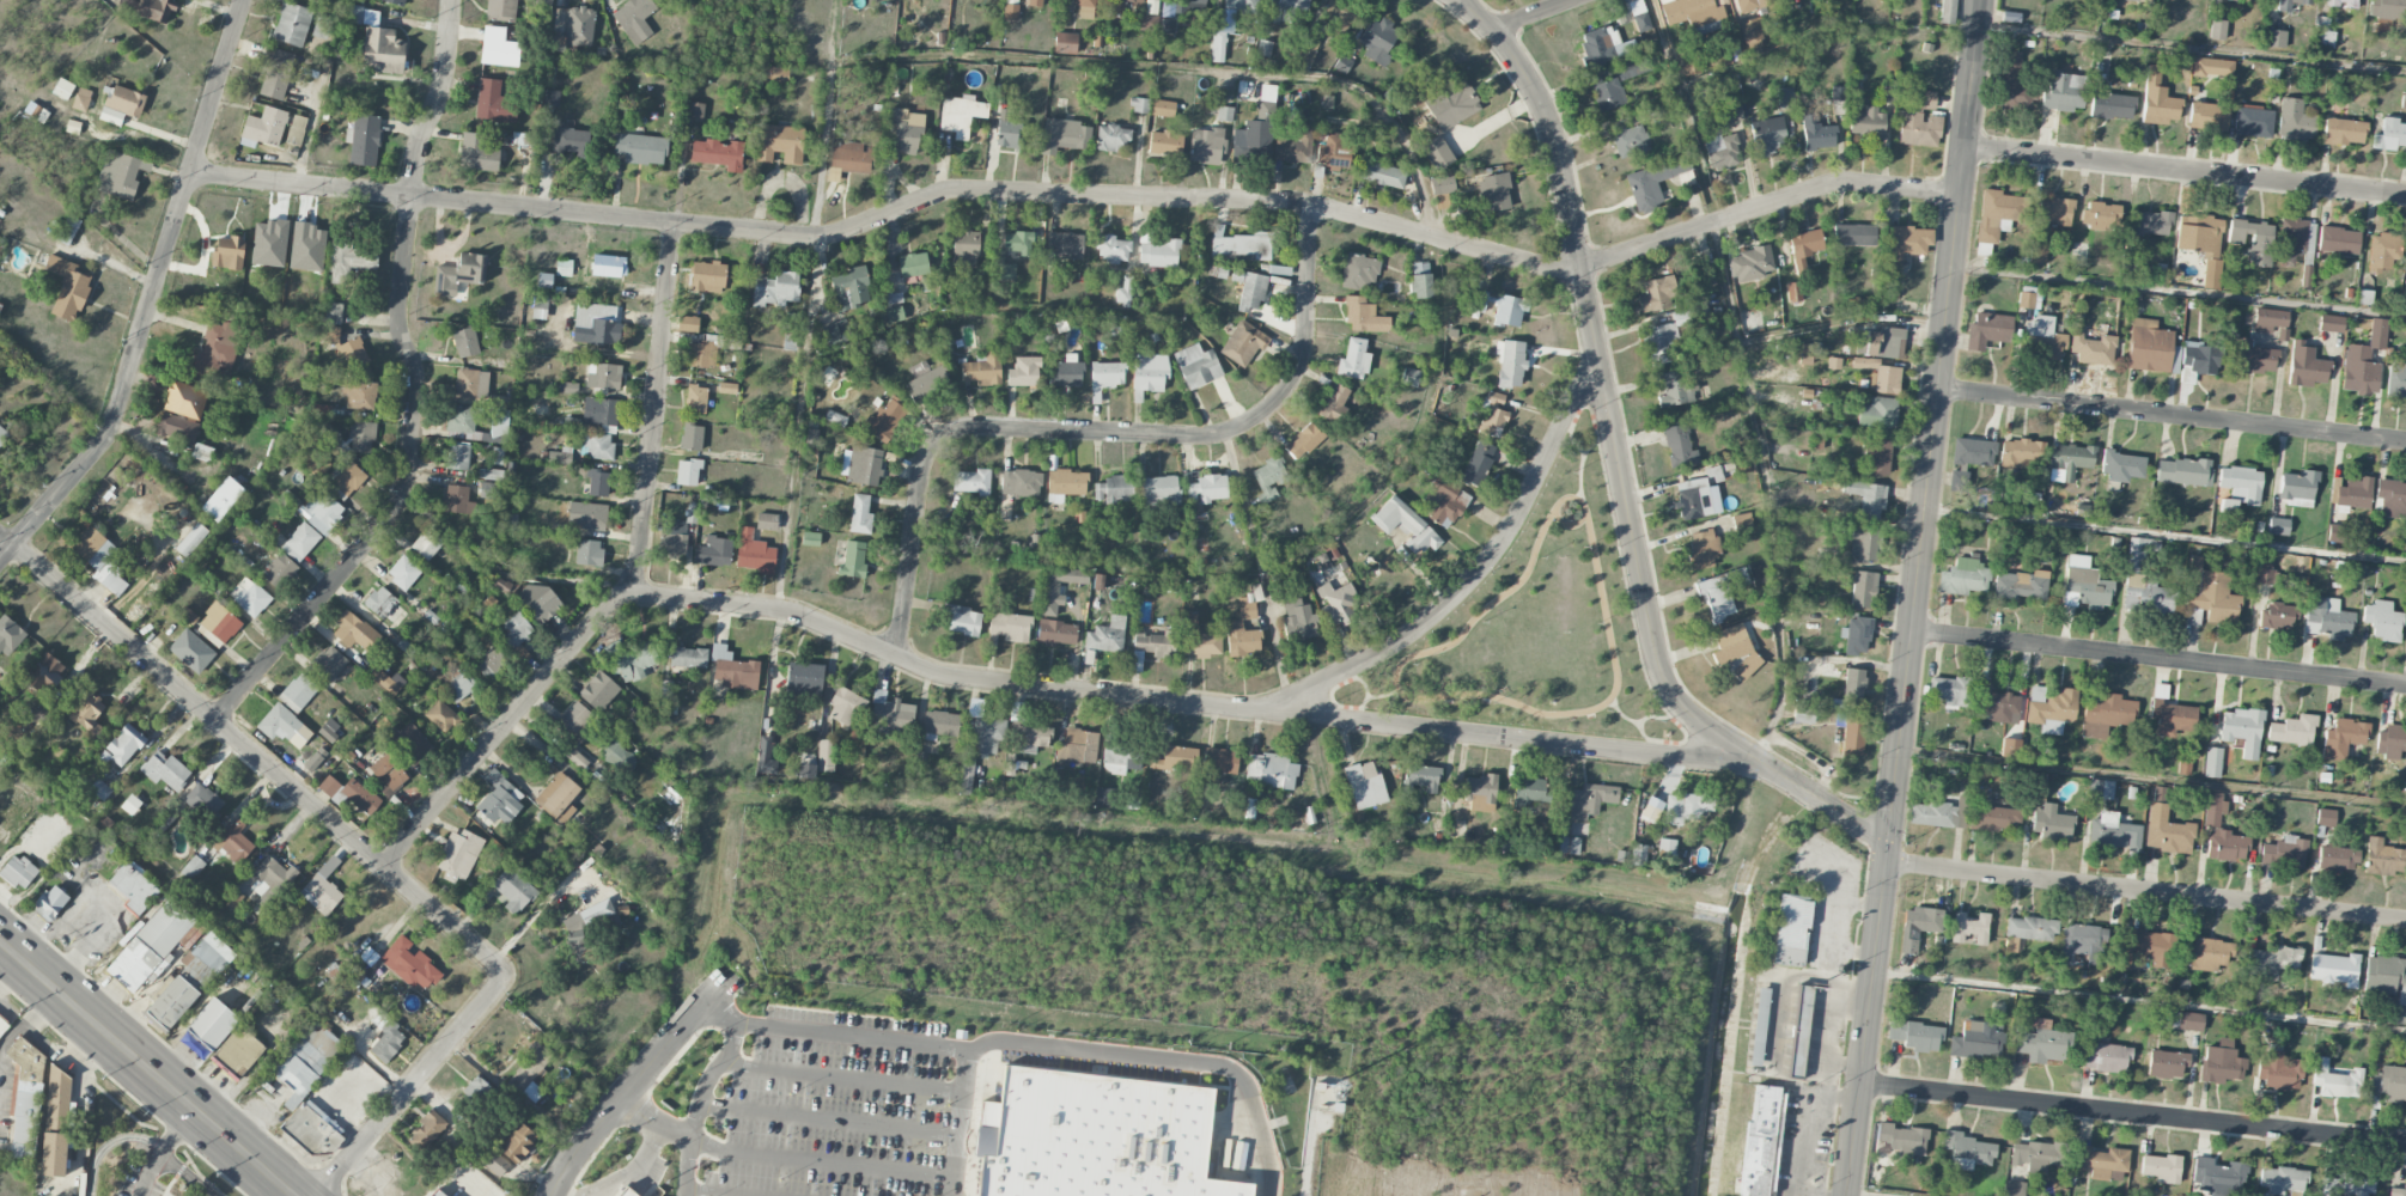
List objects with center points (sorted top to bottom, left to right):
building: (2132, 0)
building: (2230, 0)
building: (325, 1)
building: (396, 1)
building: (540, 1)
building: (1036, 2)
building: (1190, 4)
building: (2341, 4)
building: (1091, 6)
building: (1241, 6)
building: (1743, 6)
building: (1292, 7)
building: (2283, 7)
building: (151, 10)
building: (500, 10)
building: (1120, 10)
building: (2387, 10)
building: (1011, 12)
building: (1693, 12)
building: (1948, 12)
building: (354, 13)
road: (1535, 16)
building: (1168, 17)
building: (1339, 18)
building: (634, 19)
building: (292, 24)
building: (579, 26)
building: (2217, 30)
building: (2322, 33)
building: (1752, 35)
road: (1819, 36)
building: (2274, 38)
building: (1378, 41)
building: (1065, 43)
building: (1217, 45)
building: (1602, 45)
building: (498, 48)
building: (1263, 48)
road: (2187, 48)
building: (382, 51)
building: (1308, 51)
building: (2212, 67)
building: (1632, 68)
building: (275, 72)
building: (774, 75)
building: (2014, 79)
building: (63, 89)
building: (1607, 92)
building: (2064, 92)
building: (1838, 93)
building: (1887, 94)
building: (550, 98)
building: (1785, 98)
building: (81, 99)
building: (2157, 100)
building: (2404, 100)
building: (493, 103)
building: (121, 104)
building: (1451, 104)
building: (1140, 105)
building: (2112, 105)
building: (1162, 108)
building: (695, 110)
building: (1731, 111)
building: (1224, 114)
building: (961, 115)
building: (2207, 116)
building: (1919, 122)
building: (2253, 122)
building: (2295, 122)
building: (1866, 123)
building: (263, 128)
building: (906, 129)
building: (296, 130)
building: (2343, 132)
building: (1009, 133)
building: (1254, 134)
building: (1817, 134)
building: (1064, 135)
building: (2389, 135)
building: (1111, 136)
building: (1768, 136)
building: (1628, 139)
building: (364, 140)
building: (569, 141)
building: (1165, 142)
building: (780, 144)
building: (1205, 146)
building: (1295, 147)
building: (640, 148)
building: (1722, 152)
building: (477, 153)
building: (718, 153)
building: (1334, 153)
building: (1437, 153)
building: (851, 158)
road: (2181, 171)
building: (120, 175)
building: (1382, 175)
building: (1656, 182)
building: (1444, 184)
building: (1494, 191)
road: (1076, 195)
building: (2054, 212)
building: (1996, 213)
building: (2101, 215)
building: (2150, 222)
building: (68, 230)
building: (1852, 234)
building: (2199, 234)
building: (2294, 234)
building: (2253, 240)
building: (2339, 240)
building: (1017, 243)
building: (1904, 243)
building: (1064, 245)
building: (1239, 246)
building: (1804, 246)
building: (964, 248)
building: (1113, 249)
building: (1157, 250)
building: (2038, 251)
building: (229, 252)
building: (2382, 252)
building: (348, 260)
building: (2128, 260)
building: (913, 264)
building: (1750, 264)
building: (607, 266)
building: (564, 267)
road: (1433, 269)
building: (1005, 271)
building: (1358, 271)
building: (459, 274)
building: (707, 276)
building: (2306, 277)
building: (1691, 279)
building: (544, 280)
building: (1419, 282)
building: (66, 286)
building: (776, 288)
building: (851, 288)
road: (2174, 291)
building: (1251, 292)
building: (1793, 292)
building: (1125, 293)
building: (1656, 294)
building: (2404, 294)
road: (151, 297)
building: (2026, 300)
building: (1500, 306)
road: (1043, 309)
building: (894, 315)
building: (1363, 316)
building: (2268, 319)
building: (791, 321)
road: (1837, 322)
building: (2331, 323)
building: (687, 324)
building: (1987, 330)
building: (597, 331)
building: (330, 332)
building: (836, 332)
building: (1670, 332)
road: (809, 337)
building: (2042, 338)
building: (465, 342)
building: (1881, 342)
building: (729, 343)
building: (1243, 343)
building: (2149, 347)
building: (218, 348)
building: (2093, 349)
building: (702, 354)
building: (2254, 359)
building: (1353, 360)
building: (2198, 361)
building: (1510, 362)
building: (1834, 362)
building: (1865, 364)
building: (1196, 366)
building: (983, 370)
building: (2308, 370)
building: (2358, 370)
building: (1068, 371)
building: (1024, 372)
building: (1149, 373)
building: (1107, 374)
building: (603, 376)
building: (1411, 377)
road: (1747, 378)
building: (2396, 378)
building: (1887, 379)
building: (471, 384)
building: (927, 384)
building: (567, 388)
building: (727, 388)
road: (416, 389)
building: (1675, 390)
building: (359, 393)
building: (696, 398)
building: (184, 399)
building: (500, 401)
building: (1333, 401)
road: (652, 409)
building: (599, 411)
building: (1878, 413)
building: (1492, 415)
road: (2167, 415)
building: (884, 421)
building: (461, 422)
building: (500, 422)
road: (1924, 422)
building: (176, 428)
road: (1102, 432)
building: (2, 434)
building: (361, 437)
building: (692, 438)
road: (1595, 438)
building: (1304, 441)
building: (597, 445)
building: (1680, 446)
building: (201, 452)
building: (1973, 452)
building: (2022, 452)
building: (495, 456)
building: (1878, 456)
building: (458, 457)
building: (560, 457)
road: (1582, 457)
building: (2070, 459)
road: (1616, 462)
building: (1478, 463)
building: (860, 465)
building: (2121, 465)
building: (688, 471)
building: (2185, 471)
building: (1720, 472)
building: (1268, 477)
building: (348, 478)
building: (970, 481)
building: (1957, 481)
building: (1021, 482)
building: (1066, 482)
building: (2241, 482)
building: (598, 483)
building: (1114, 488)
building: (1207, 488)
building: (2297, 488)
building: (1159, 490)
building: (2351, 493)
building: (2390, 494)
building: (1869, 498)
building: (221, 499)
building: (1693, 499)
building: (457, 500)
building: (1443, 501)
building: (2030, 501)
building: (323, 512)
building: (690, 513)
building: (860, 514)
building: (586, 515)
road: (1548, 518)
building: (767, 521)
building: (1742, 521)
road: (1567, 525)
building: (1406, 526)
building: (2277, 526)
building: (2335, 533)
road: (2161, 535)
building: (672, 538)
building: (811, 538)
building: (191, 539)
building: (300, 542)
building: (427, 544)
building: (1863, 544)
building: (1703, 549)
building: (714, 551)
building: (589, 553)
building: (754, 553)
building: (2137, 554)
building: (99, 557)
building: (853, 560)
road: (1261, 563)
building: (279, 570)
building: (403, 572)
road: (1478, 572)
building: (1759, 572)
building: (1067, 575)
building: (1963, 576)
building: (2266, 576)
building: (2021, 585)
building: (2085, 585)
building: (1863, 590)
building: (1720, 592)
building: (2211, 593)
building: (1033, 594)
building: (2146, 596)
building: (249, 597)
building: (1049, 598)
building: (537, 602)
building: (1248, 604)
building: (1336, 604)
building: (385, 606)
building: (2276, 615)
building: (1296, 618)
building: (2328, 618)
building: (962, 620)
building: (2382, 621)
building: (218, 624)
building: (1010, 627)
park: (1537, 627)
building: (354, 631)
building: (1056, 633)
building: (517, 634)
building: (8, 635)
building: (1105, 635)
building: (1857, 636)
building: (1199, 640)
building: (1242, 640)
building: (1157, 643)
building: (191, 651)
building: (1735, 651)
building: (688, 657)
building: (492, 660)
building: (631, 660)
building: (1137, 660)
road: (2154, 660)
building: (329, 663)
building: (732, 669)
building: (44, 675)
building: (804, 678)
building: (388, 681)
road: (1362, 681)
road: (993, 683)
building: (1853, 685)
building: (459, 687)
building: (1949, 689)
building: (599, 691)
building: (297, 692)
road: (1511, 703)
building: (1997, 703)
building: (846, 706)
building: (2051, 709)
building: (1803, 713)
building: (2105, 713)
building: (87, 714)
building: (890, 714)
building: (441, 716)
road: (1659, 716)
building: (37, 718)
building: (2172, 718)
building: (575, 720)
building: (939, 725)
building: (2240, 725)
building: (284, 726)
building: (329, 730)
building: (2292, 731)
building: (988, 733)
building: (1852, 733)
building: (1034, 737)
building: (2343, 738)
building: (2390, 742)
building: (412, 743)
building: (122, 746)
building: (1077, 746)
building: (2010, 746)
building: (826, 755)
building: (617, 756)
building: (765, 756)
building: (1120, 758)
building: (315, 759)
building: (1175, 759)
building: (1220, 761)
building: (2212, 762)
building: (2183, 765)
building: (165, 770)
building: (806, 770)
building: (1269, 770)
building: (388, 774)
building: (967, 775)
building: (1421, 777)
road: (2148, 777)
building: (1365, 785)
building: (100, 789)
building: (2100, 789)
building: (351, 793)
building: (1480, 793)
building: (1529, 793)
building: (556, 794)
building: (2405, 797)
building: (500, 798)
building: (1588, 800)
building: (202, 801)
building: (1686, 807)
building: (1647, 813)
building: (1938, 813)
building: (2325, 818)
building: (1994, 819)
building: (2051, 823)
building: (2405, 830)
building: (2166, 831)
building: (2112, 832)
building: (2222, 832)
building: (233, 842)
building: (1567, 846)
traffic signals: (1878, 847)
building: (1667, 848)
road: (365, 849)
building: (2284, 853)
building: (459, 854)
building: (1639, 854)
building: (2382, 858)
building: (2337, 859)
building: (193, 867)
building: (18, 872)
building: (270, 879)
building: (134, 887)
building: (514, 887)
building: (322, 889)
road: (2139, 890)
building: (232, 898)
building: (50, 902)
building: (583, 926)
building: (1918, 926)
building: (1971, 927)
building: (2030, 928)
building: (1791, 930)
building: (151, 942)
building: (2081, 944)
building: (2144, 948)
building: (2207, 954)
building: (2272, 960)
building: (409, 964)
building: (2334, 969)
building: (2387, 983)
building: (175, 1000)
road: (2134, 1000)
road: (724, 1013)
road: (1858, 1020)
building: (2189, 1021)
building: (2040, 1023)
building: (2, 1024)
building: (212, 1024)
building: (1758, 1026)
building: (1798, 1030)
building: (1915, 1035)
road: (864, 1037)
building: (386, 1038)
building: (1976, 1041)
building: (2040, 1044)
building: (238, 1051)
building: (2103, 1057)
building: (305, 1060)
road: (1164, 1060)
building: (2221, 1063)
building: (2167, 1064)
road: (146, 1068)
building: (530, 1072)
building: (2279, 1073)
road: (840, 1074)
building: (2335, 1080)
building: (2390, 1084)
road: (634, 1085)
building: (1318, 1086)
building: (476, 1090)
building: (26, 1097)
road: (2128, 1112)
road: (828, 1116)
building: (312, 1129)
building: (427, 1130)
road: (681, 1133)
road: (139, 1136)
building: (1100, 1137)
building: (1901, 1139)
building: (1761, 1141)
building: (517, 1143)
road: (652, 1147)
road: (163, 1149)
building: (1967, 1151)
building: (54, 1154)
building: (2030, 1157)
road: (821, 1160)
building: (494, 1163)
building: (2102, 1163)
building: (2161, 1168)
building: (2217, 1177)
building: (2282, 1179)
road: (605, 1183)
building: (2355, 1188)
building: (2014, 1189)
building: (625, 1191)
building: (2398, 1191)
road: (712, 1192)
building: (435, 1194)
road: (1860, 1194)

